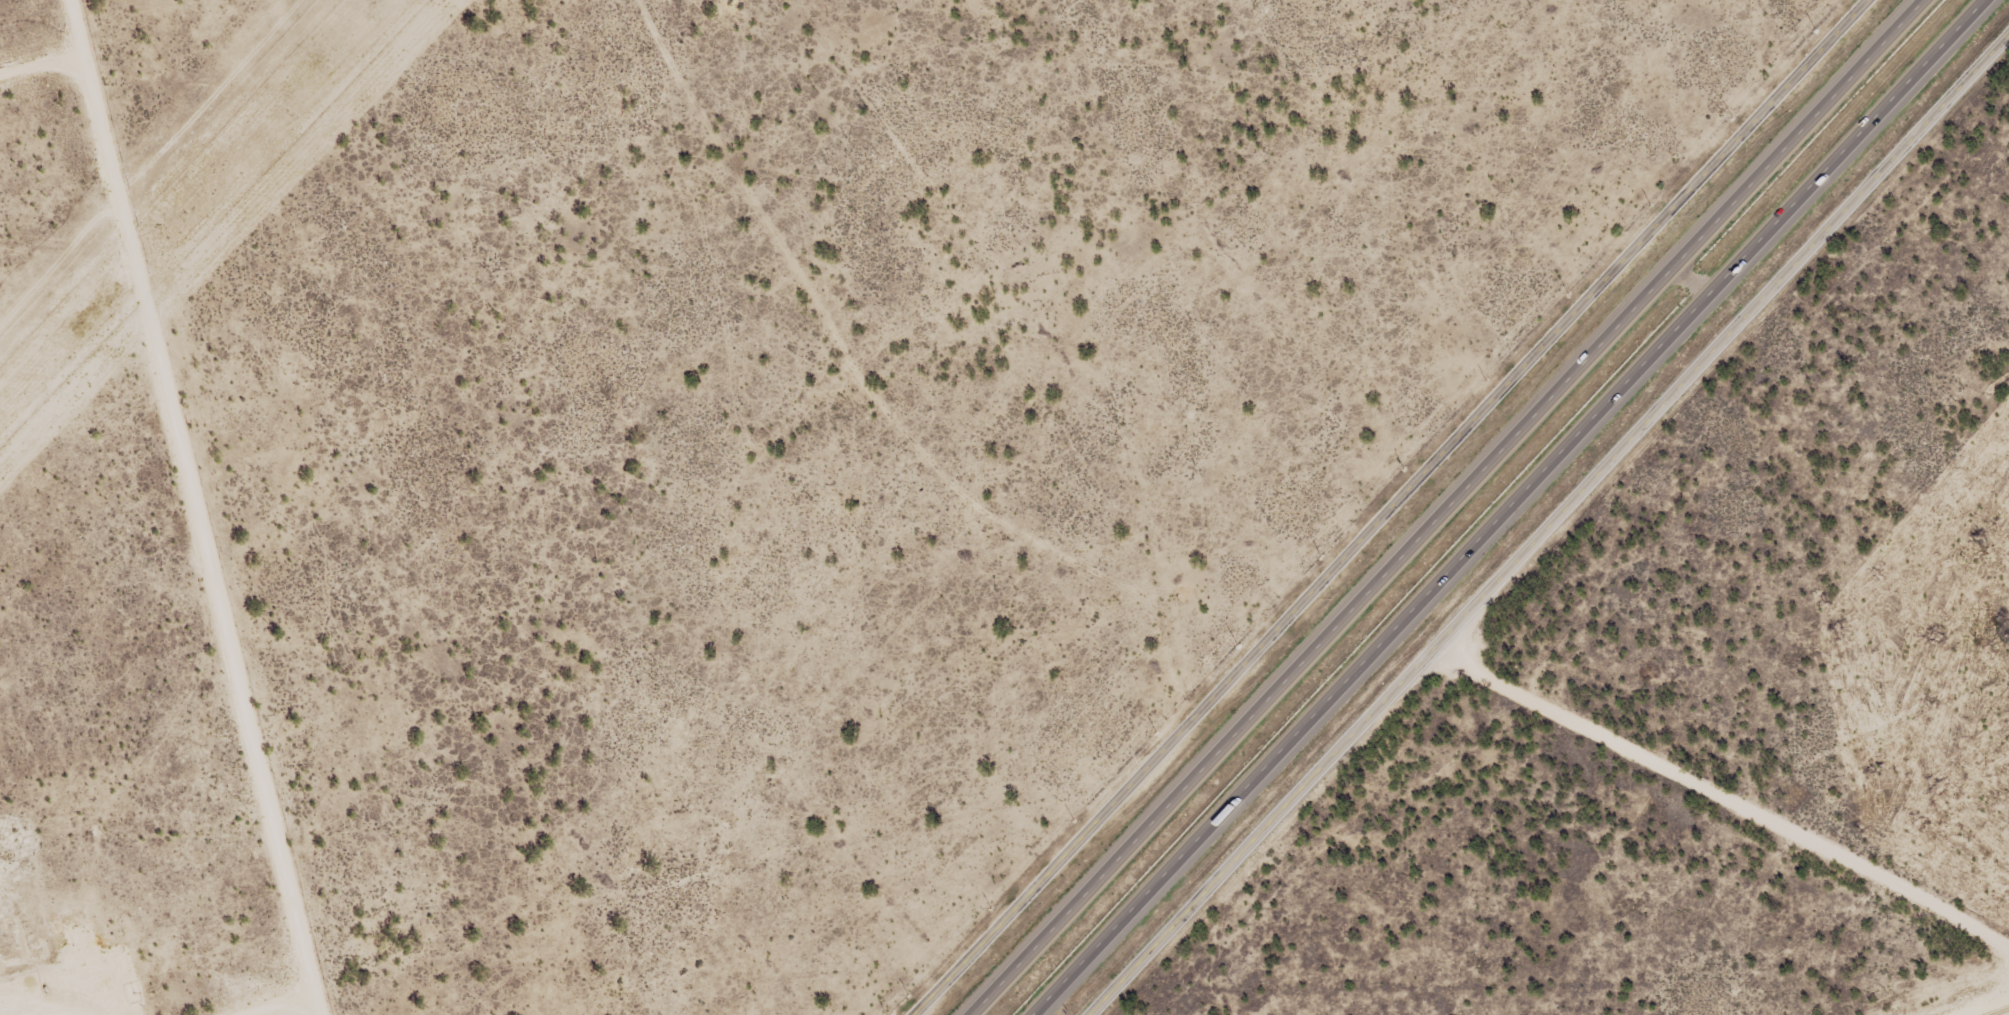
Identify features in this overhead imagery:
road: (164, 361)
road: (1381, 504)
road: (1506, 506)
road: (1445, 507)
road: (1542, 520)
road: (287, 869)
railway: (2000, 1011)

